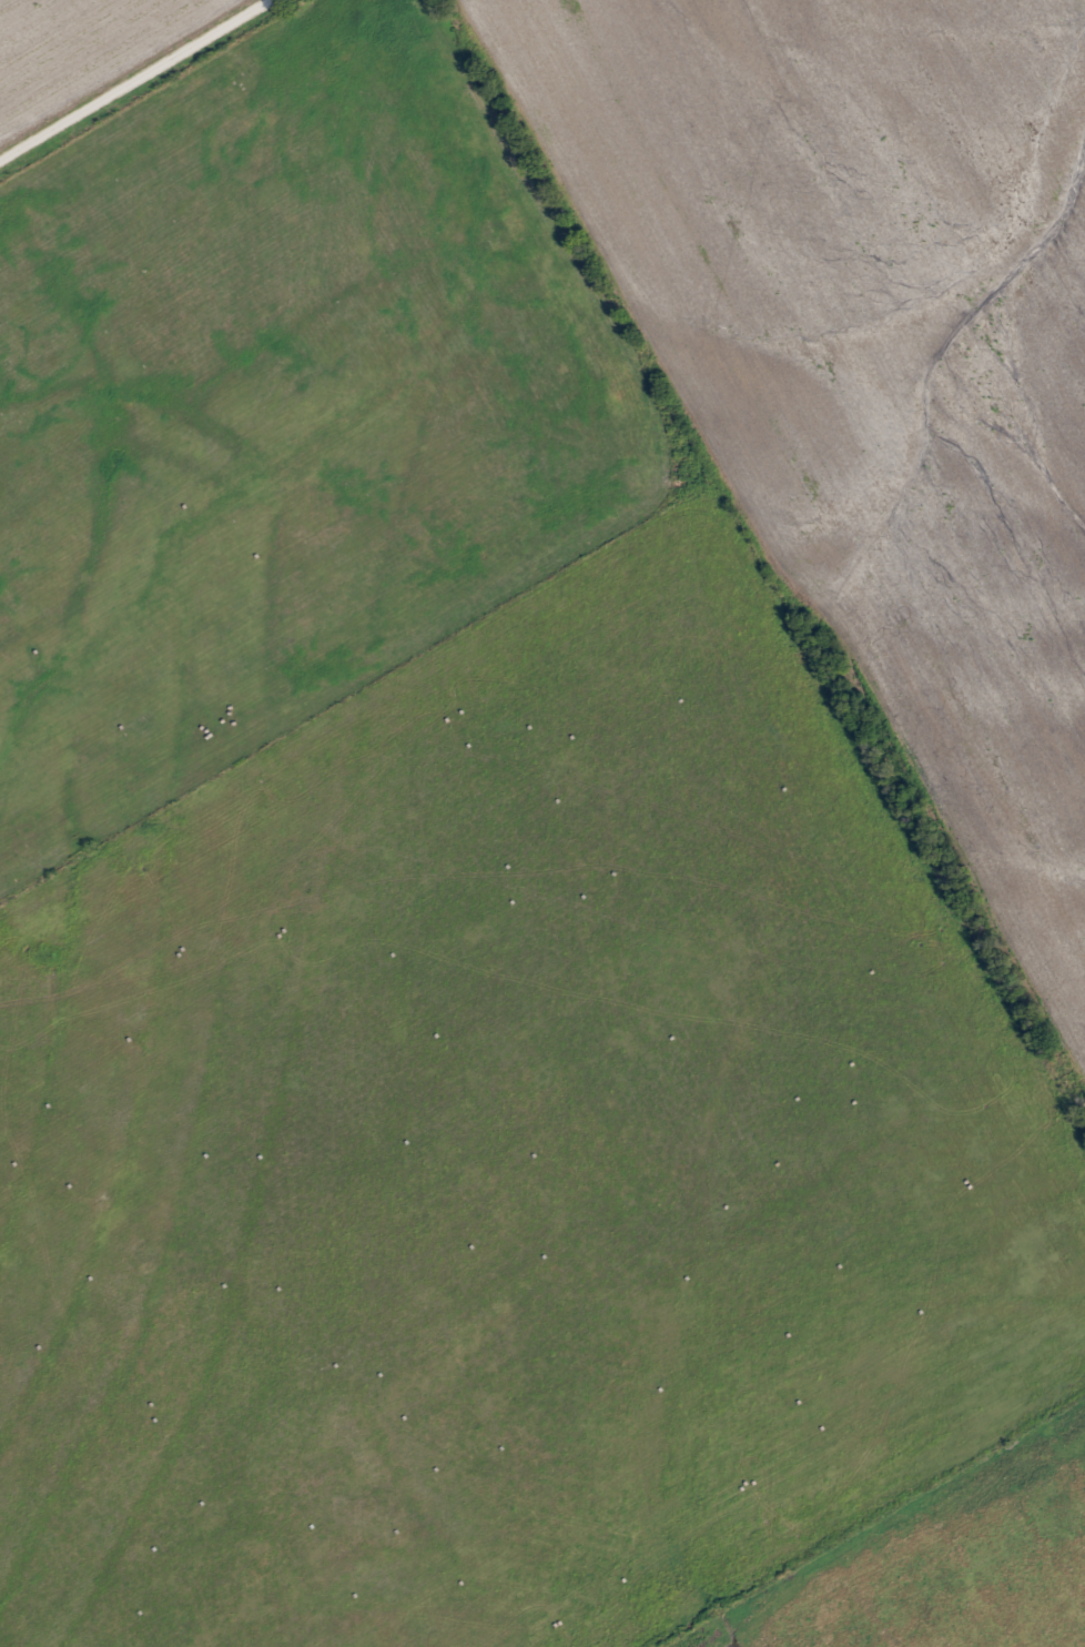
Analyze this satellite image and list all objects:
road: (131, 79)

